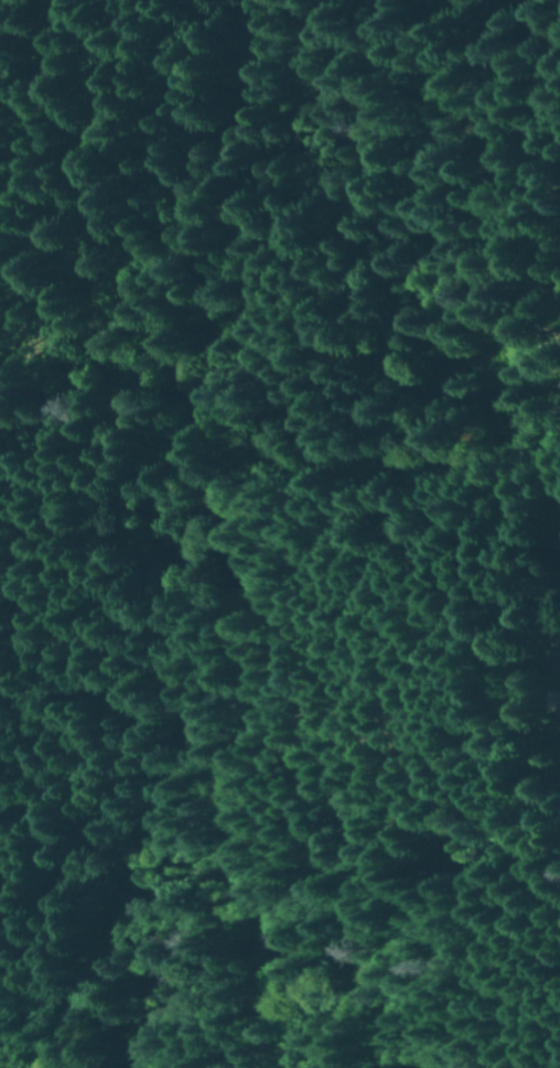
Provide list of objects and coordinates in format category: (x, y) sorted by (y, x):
road: (29, 44)
road: (21, 76)
road: (84, 250)
road: (364, 455)
road: (355, 729)
road: (433, 786)

